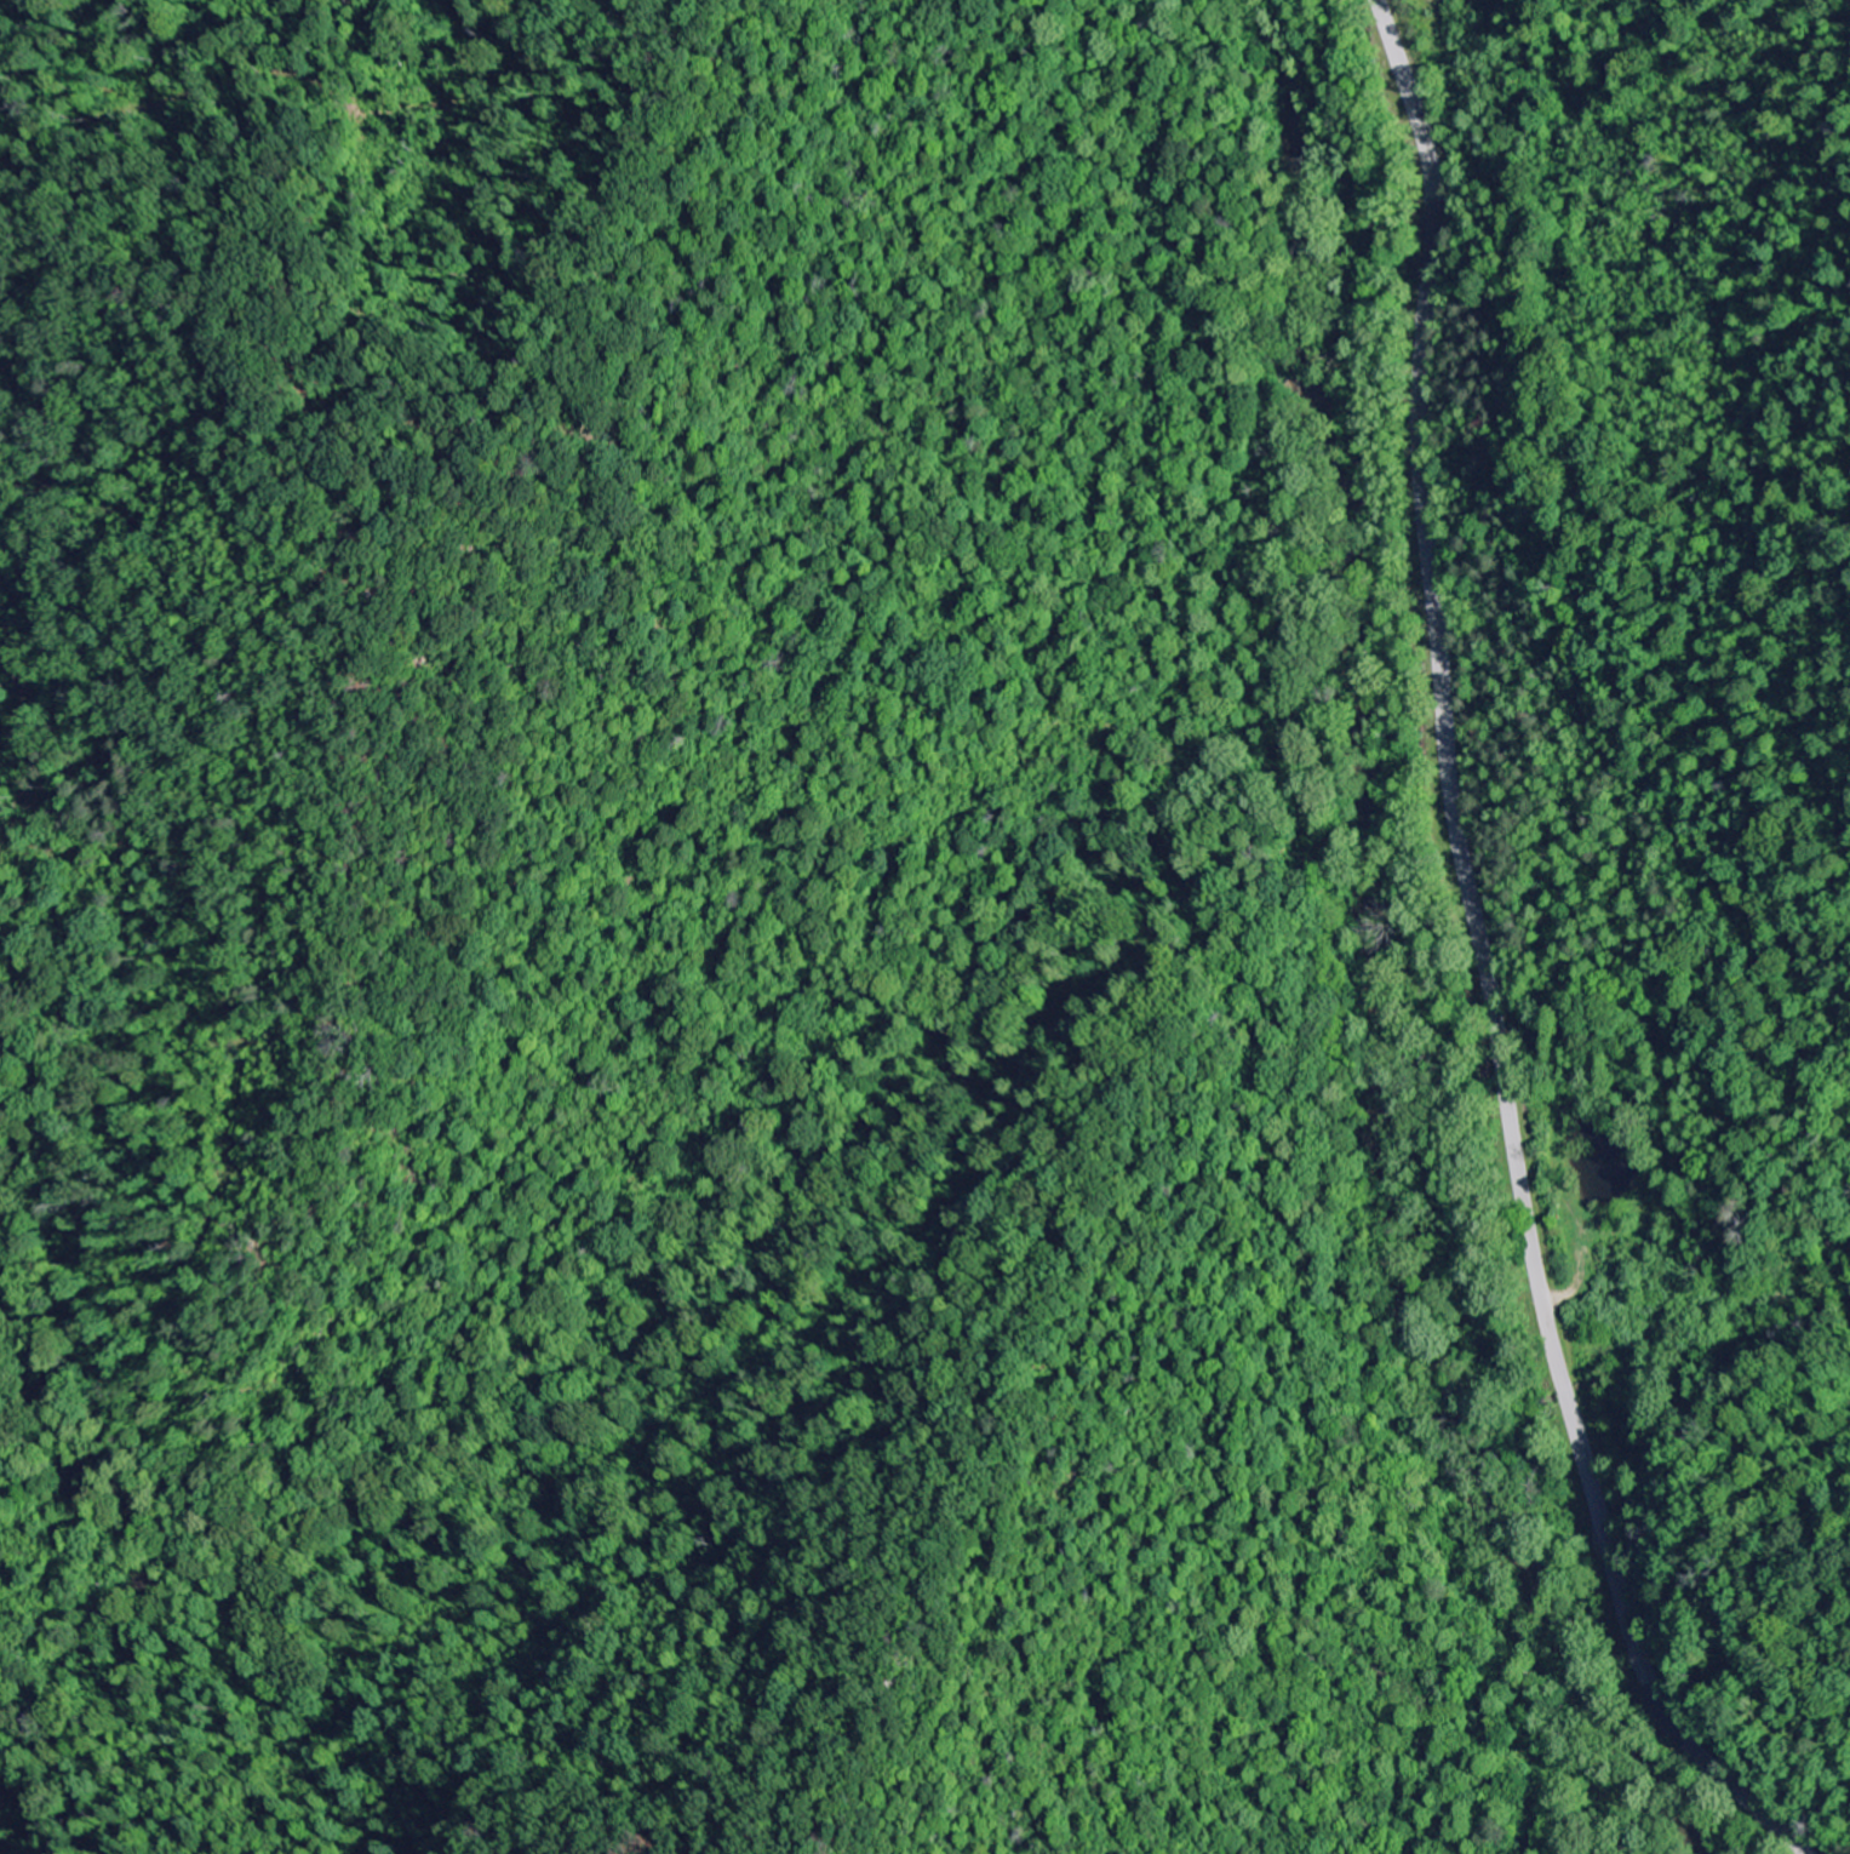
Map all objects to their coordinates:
road: (1484, 960)

